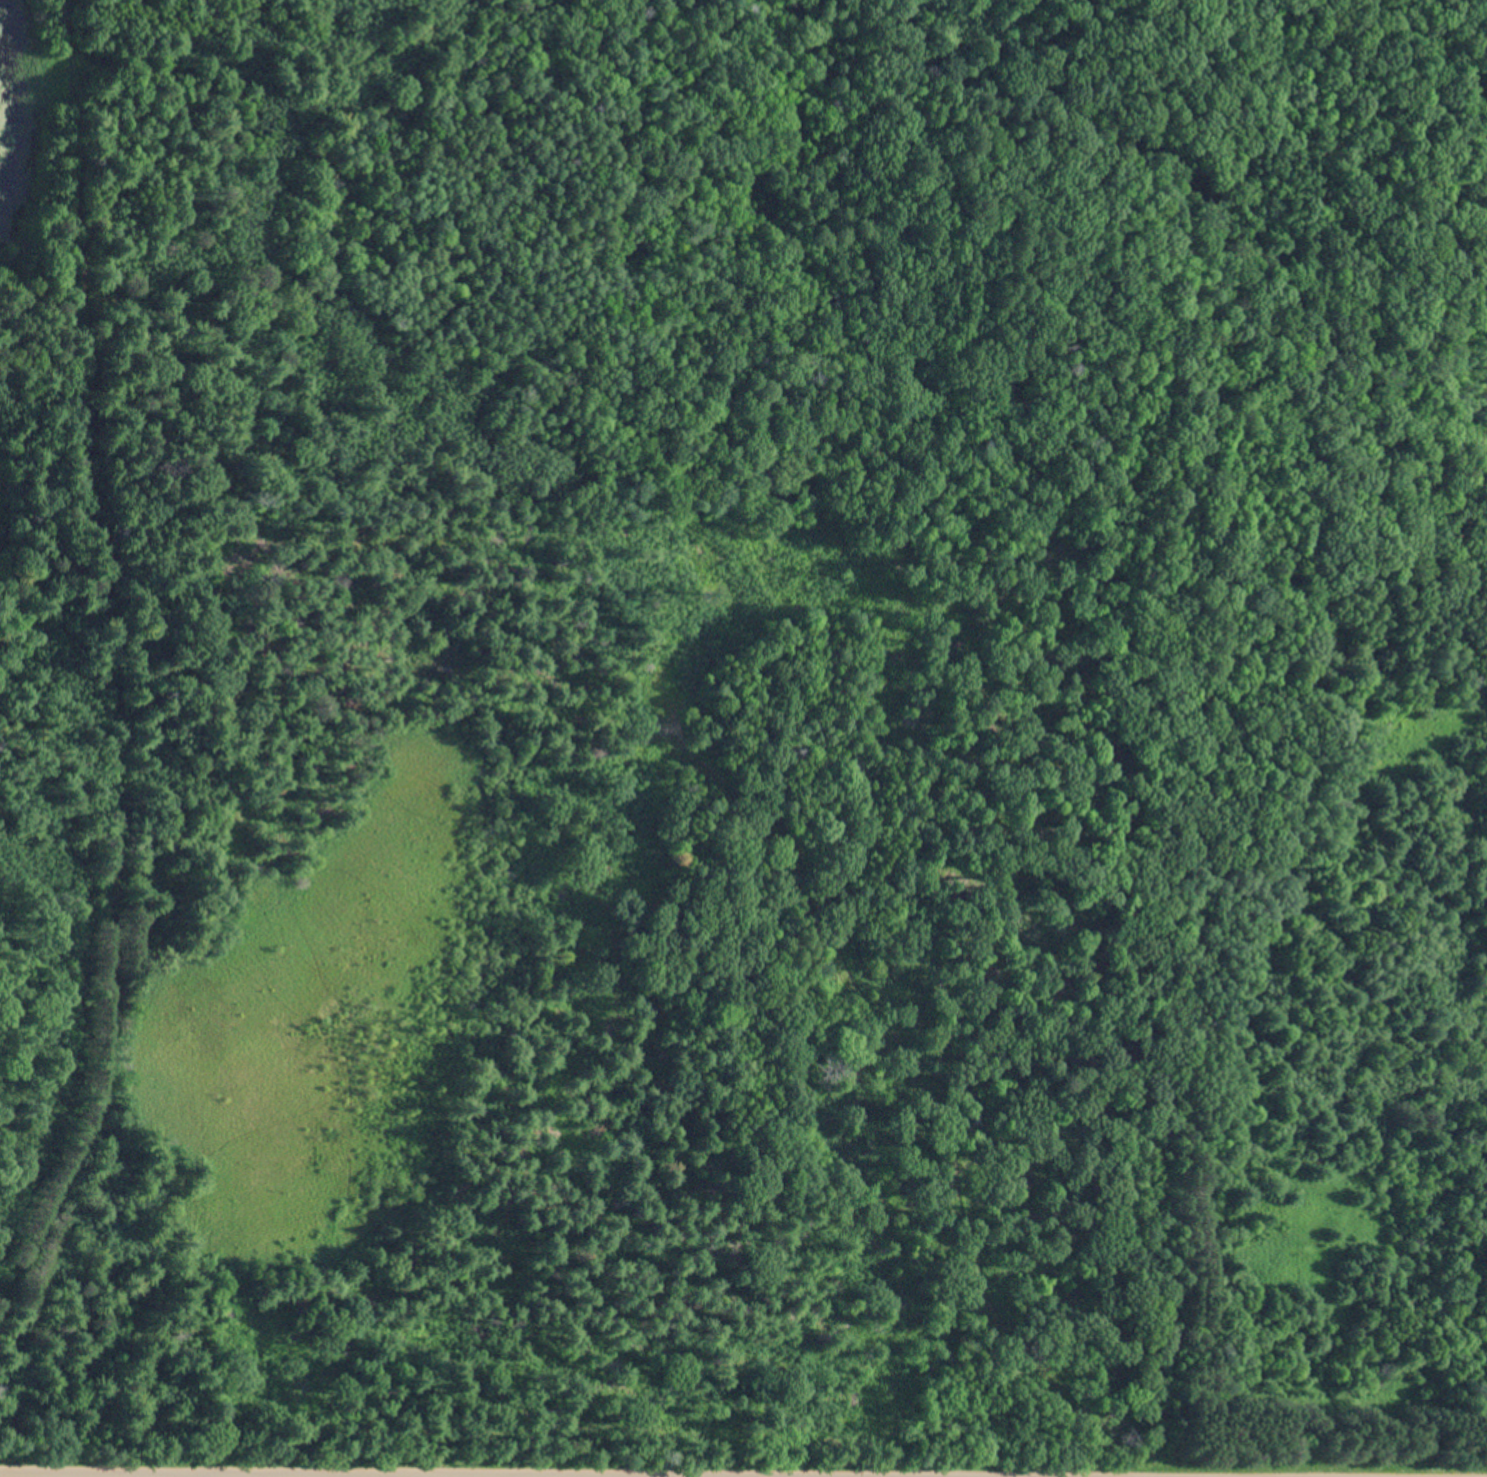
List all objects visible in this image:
road: (121, 1475)

